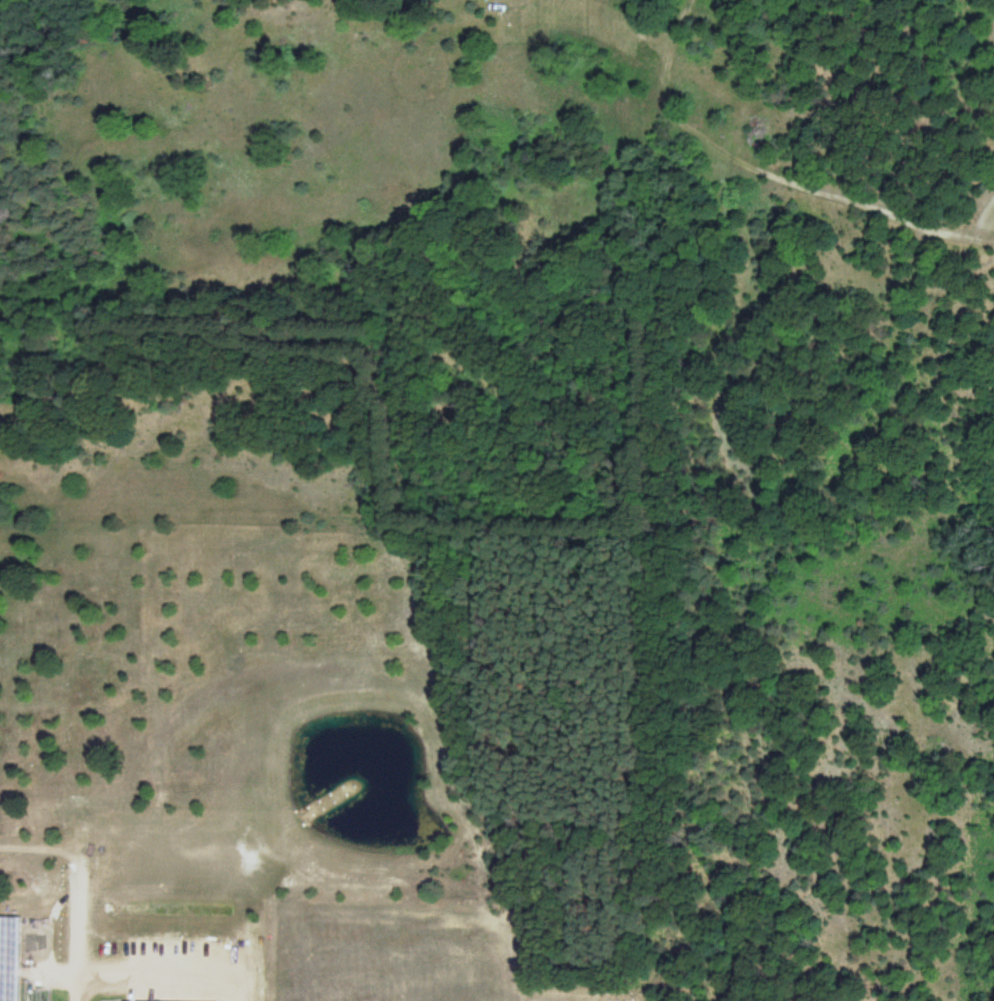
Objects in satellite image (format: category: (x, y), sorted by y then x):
road: (156, 977)

